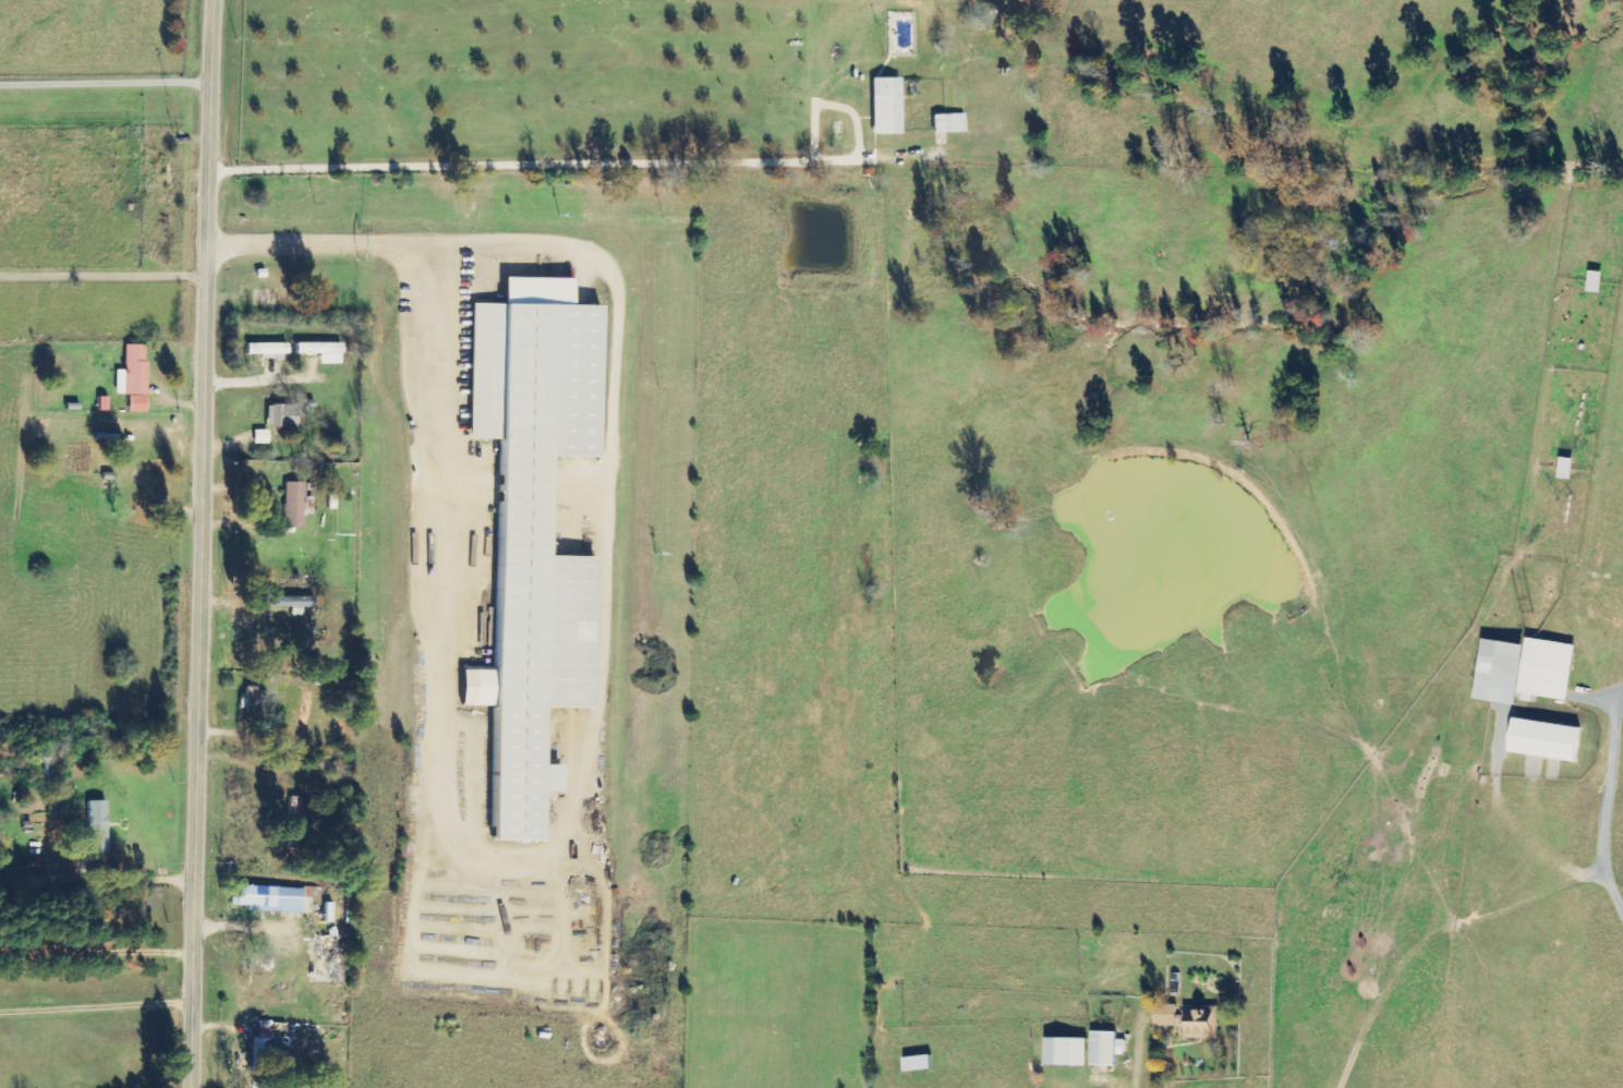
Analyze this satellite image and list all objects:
building: (884, 106)
building: (947, 123)
building: (1595, 281)
building: (265, 349)
building: (320, 351)
building: (132, 377)
building: (280, 415)
building: (259, 436)
building: (294, 504)
building: (530, 530)
road: (206, 543)
road: (373, 667)
building: (1525, 670)
building: (253, 700)
building: (1546, 739)
building: (96, 826)
road: (105, 886)
building: (268, 899)
building: (327, 944)
building: (1189, 1020)
building: (268, 1044)
building: (1105, 1049)
building: (1066, 1052)
building: (918, 1064)

